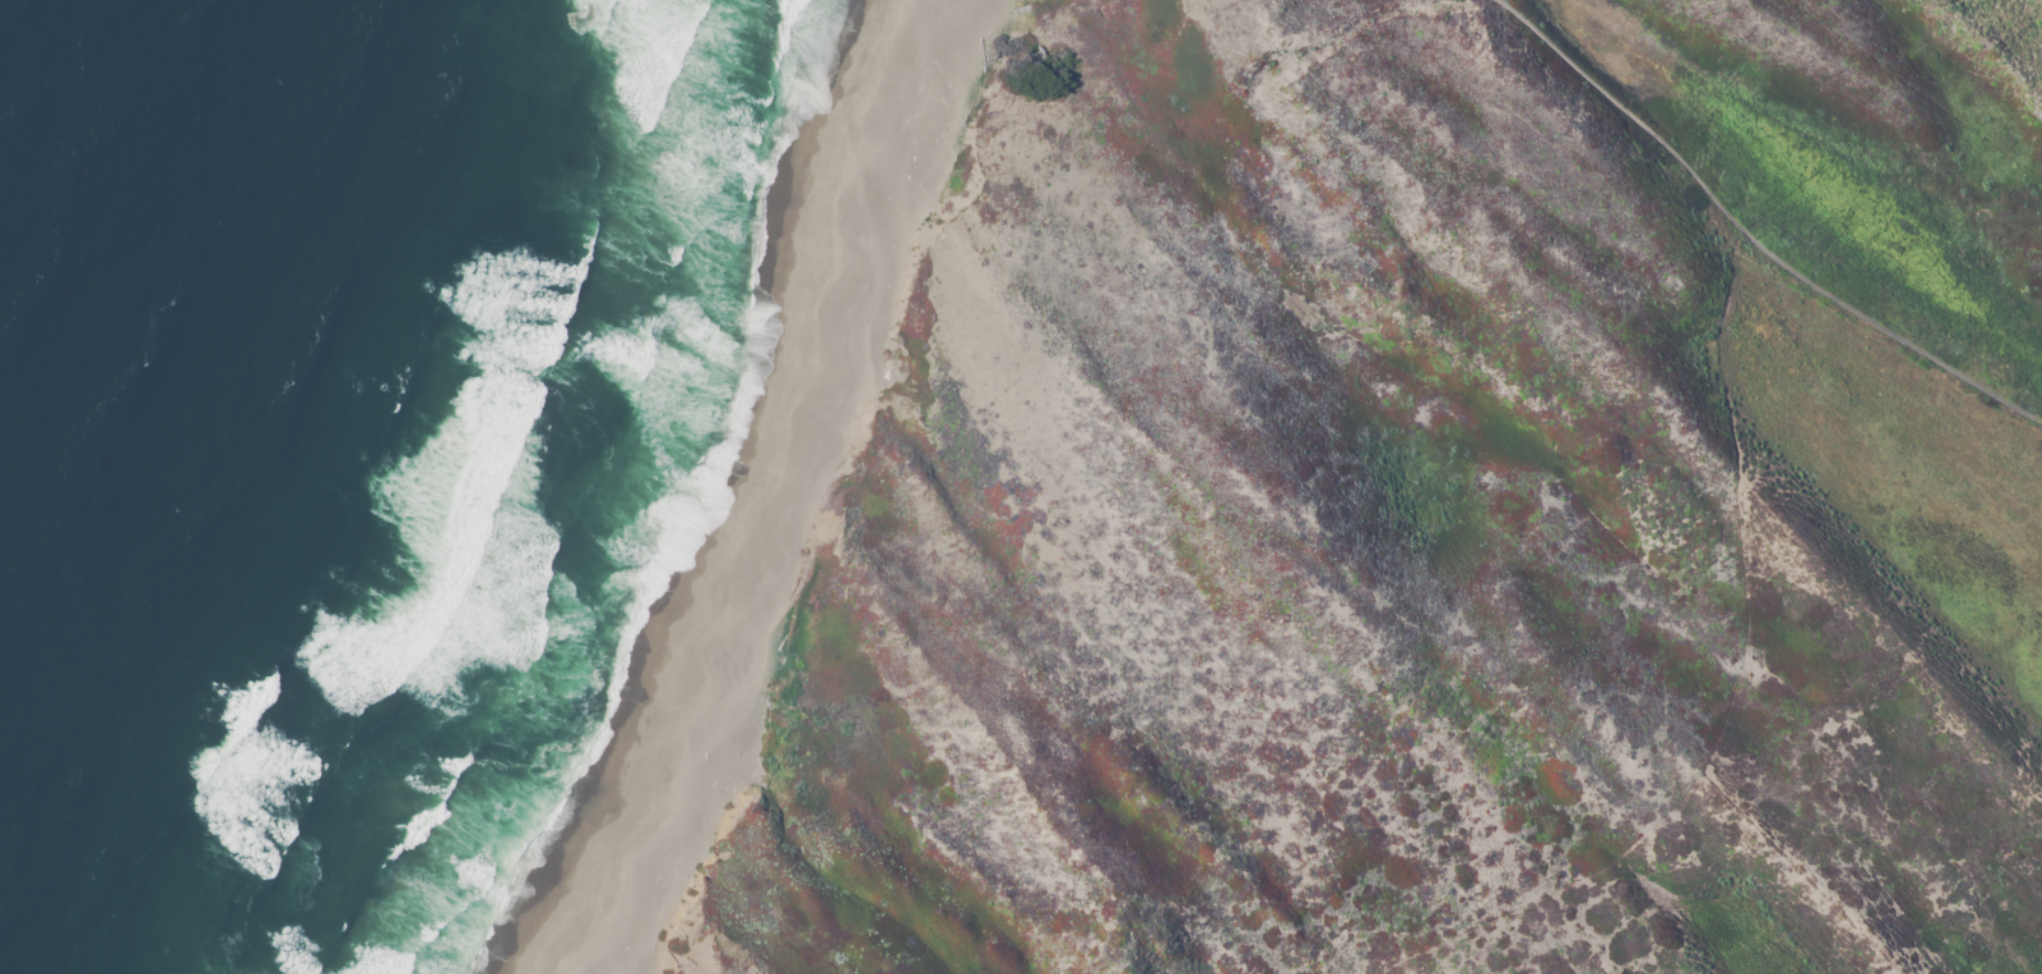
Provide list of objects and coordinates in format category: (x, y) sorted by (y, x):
road: (1747, 238)

